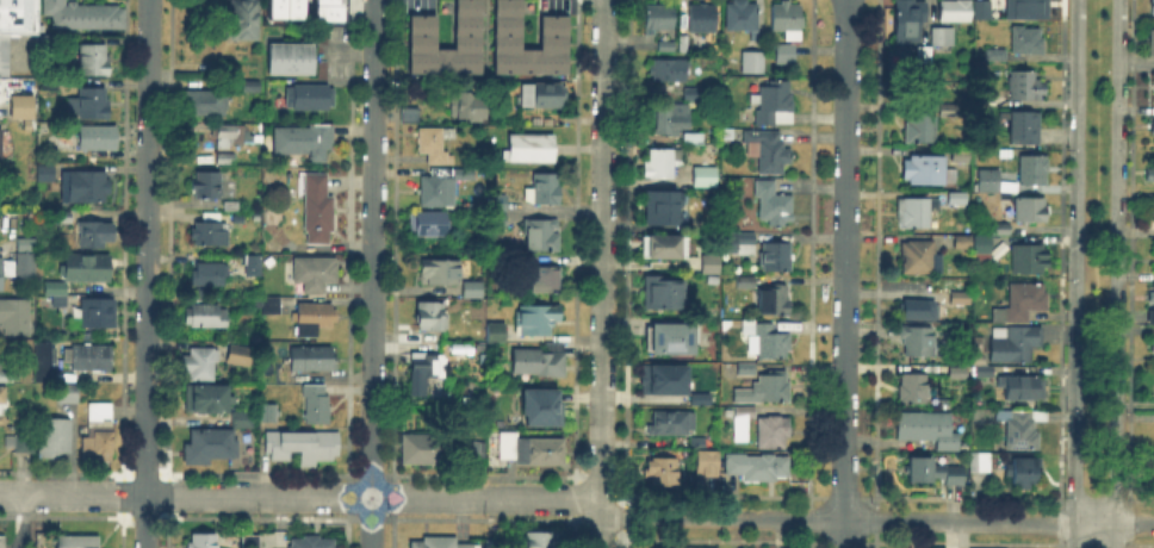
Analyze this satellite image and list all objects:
building: (1153, 7)
building: (281, 8)
building: (1025, 8)
building: (327, 10)
building: (955, 12)
building: (982, 12)
building: (85, 15)
building: (743, 17)
building: (243, 19)
building: (658, 19)
building: (697, 20)
building: (788, 21)
building: (910, 23)
building: (15, 26)
building: (420, 30)
building: (551, 31)
building: (943, 38)
building: (1028, 41)
building: (684, 44)
building: (1152, 44)
building: (666, 46)
building: (786, 55)
building: (923, 55)
building: (994, 56)
building: (291, 60)
building: (92, 61)
building: (753, 64)
building: (670, 71)
building: (1152, 85)
building: (252, 87)
building: (1025, 87)
building: (542, 96)
building: (695, 96)
building: (310, 98)
building: (206, 102)
building: (19, 105)
building: (94, 106)
building: (465, 106)
building: (775, 106)
building: (949, 111)
building: (411, 116)
building: (666, 122)
building: (1025, 127)
building: (1153, 127)
building: (920, 130)
building: (230, 135)
building: (98, 138)
building: (694, 139)
building: (305, 142)
building: (0, 144)
building: (436, 144)
building: (532, 149)
building: (770, 151)
building: (227, 160)
building: (663, 164)
building: (1035, 172)
building: (926, 173)
building: (45, 174)
building: (1149, 174)
building: (464, 175)
building: (707, 179)
building: (989, 181)
building: (206, 186)
building: (85, 188)
building: (546, 191)
building: (434, 192)
building: (958, 199)
building: (498, 204)
building: (773, 205)
building: (665, 208)
building: (318, 210)
building: (1032, 211)
building: (1153, 211)
building: (917, 213)
building: (63, 218)
building: (500, 220)
building: (427, 225)
building: (1000, 230)
building: (211, 231)
building: (272, 233)
building: (95, 235)
building: (541, 236)
building: (979, 242)
building: (966, 243)
building: (740, 244)
building: (27, 245)
building: (665, 248)
building: (985, 251)
park: (1096, 254)
building: (1153, 255)
building: (918, 257)
building: (778, 259)
building: (1029, 260)
building: (712, 264)
building: (83, 266)
building: (253, 266)
building: (25, 269)
road: (145, 273)
road: (372, 273)
road: (602, 273)
road: (1074, 273)
building: (315, 274)
building: (442, 274)
road: (845, 274)
road: (1117, 274)
building: (0, 275)
building: (209, 275)
building: (546, 280)
building: (746, 284)
building: (51, 286)
building: (474, 291)
building: (665, 294)
building: (1152, 294)
building: (56, 299)
building: (961, 299)
building: (775, 303)
building: (1023, 304)
building: (272, 306)
building: (922, 311)
building: (98, 313)
building: (15, 317)
building: (206, 317)
building: (433, 319)
building: (312, 320)
building: (536, 322)
building: (497, 334)
building: (670, 340)
building: (918, 342)
building: (1015, 343)
building: (773, 347)
building: (1153, 347)
building: (236, 353)
building: (460, 353)
building: (91, 357)
building: (314, 360)
building: (541, 362)
building: (45, 363)
building: (200, 365)
building: (429, 366)
building: (744, 369)
building: (8, 372)
building: (986, 373)
building: (960, 374)
building: (670, 378)
building: (767, 390)
building: (1020, 390)
building: (914, 391)
building: (69, 394)
building: (206, 399)
building: (317, 406)
building: (542, 406)
building: (4, 407)
building: (265, 410)
building: (746, 413)
building: (243, 422)
building: (672, 424)
building: (1020, 429)
building: (929, 430)
building: (100, 434)
building: (774, 434)
building: (55, 437)
building: (26, 441)
building: (210, 447)
building: (302, 447)
building: (423, 450)
building: (477, 450)
building: (532, 450)
building: (981, 463)
building: (707, 465)
building: (1153, 467)
building: (759, 468)
building: (663, 472)
building: (1024, 473)
building: (935, 474)
road: (578, 499)
building: (2, 541)
building: (544, 541)
building: (77, 542)
building: (204, 542)
building: (250, 542)
building: (314, 543)
building: (440, 544)

